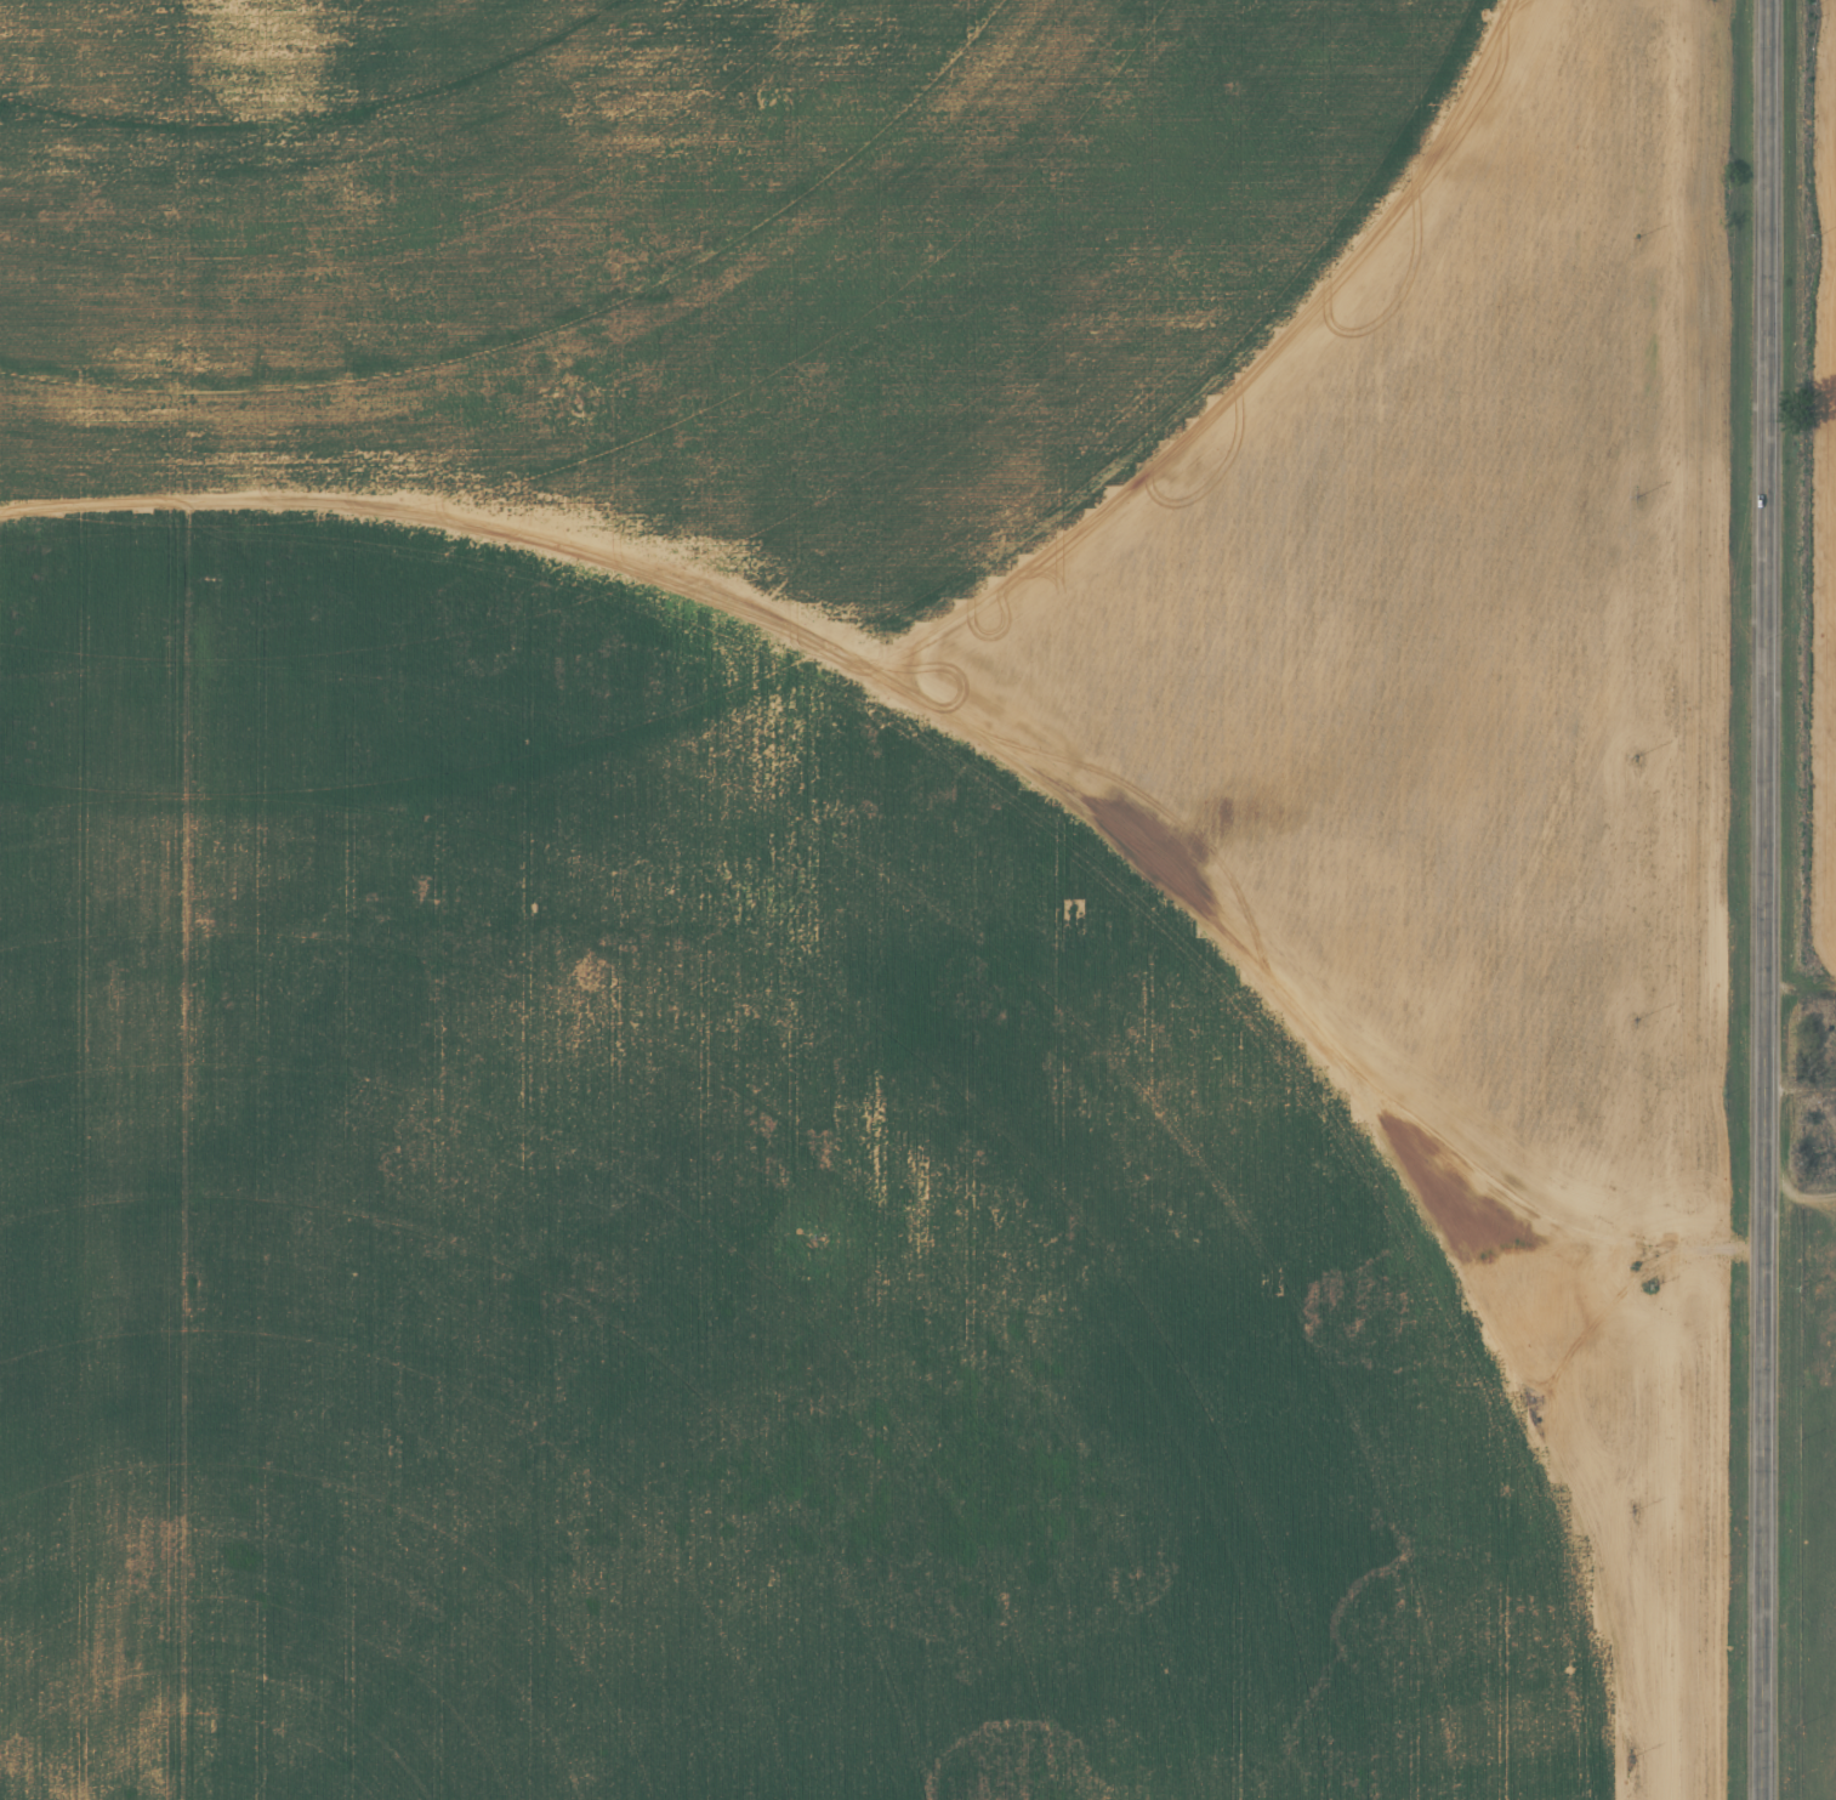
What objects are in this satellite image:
road: (1769, 899)
road: (1802, 1004)

